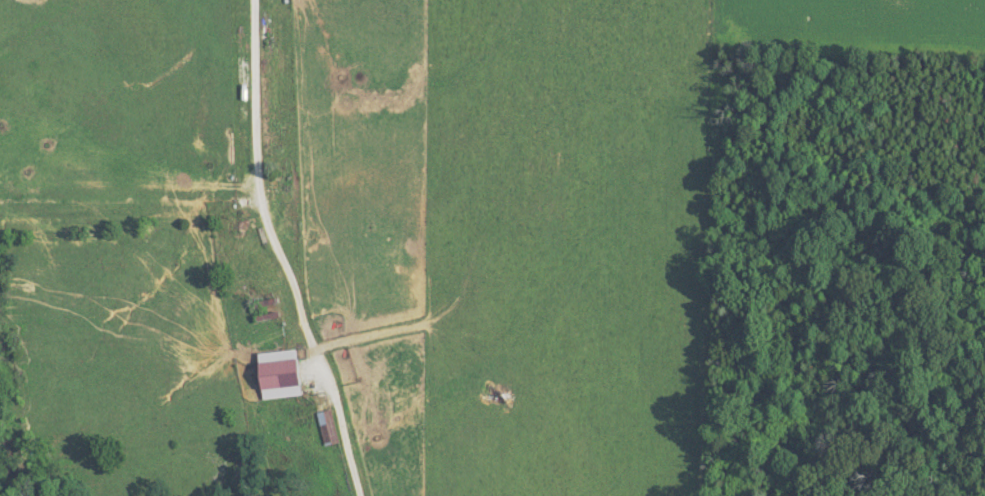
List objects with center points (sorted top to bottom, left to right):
road: (286, 251)
building: (269, 315)
building: (327, 426)

